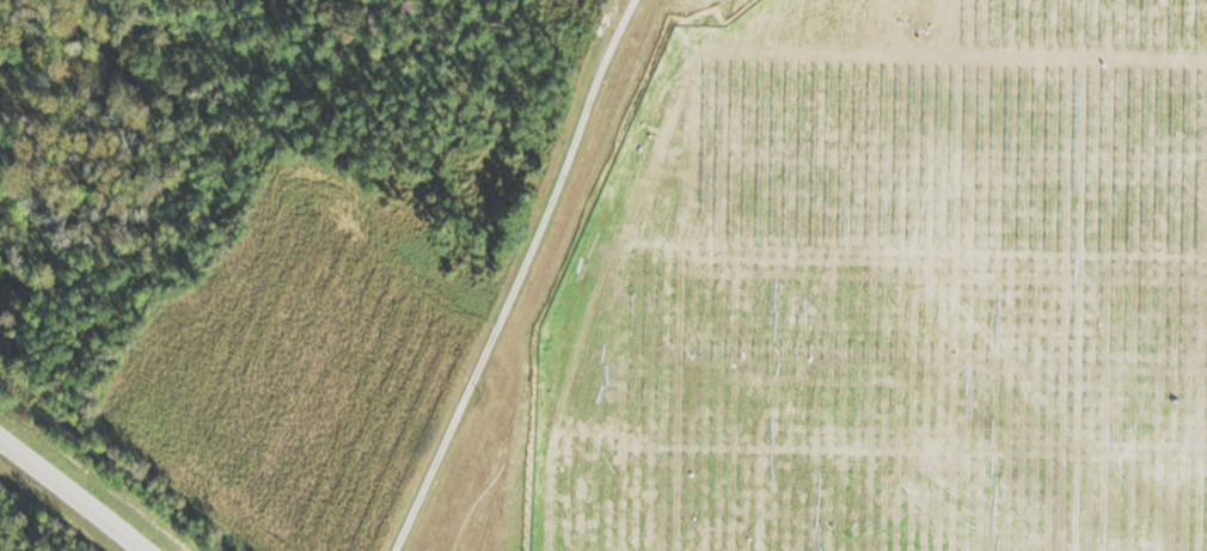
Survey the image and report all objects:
road: (517, 277)
road: (69, 495)

